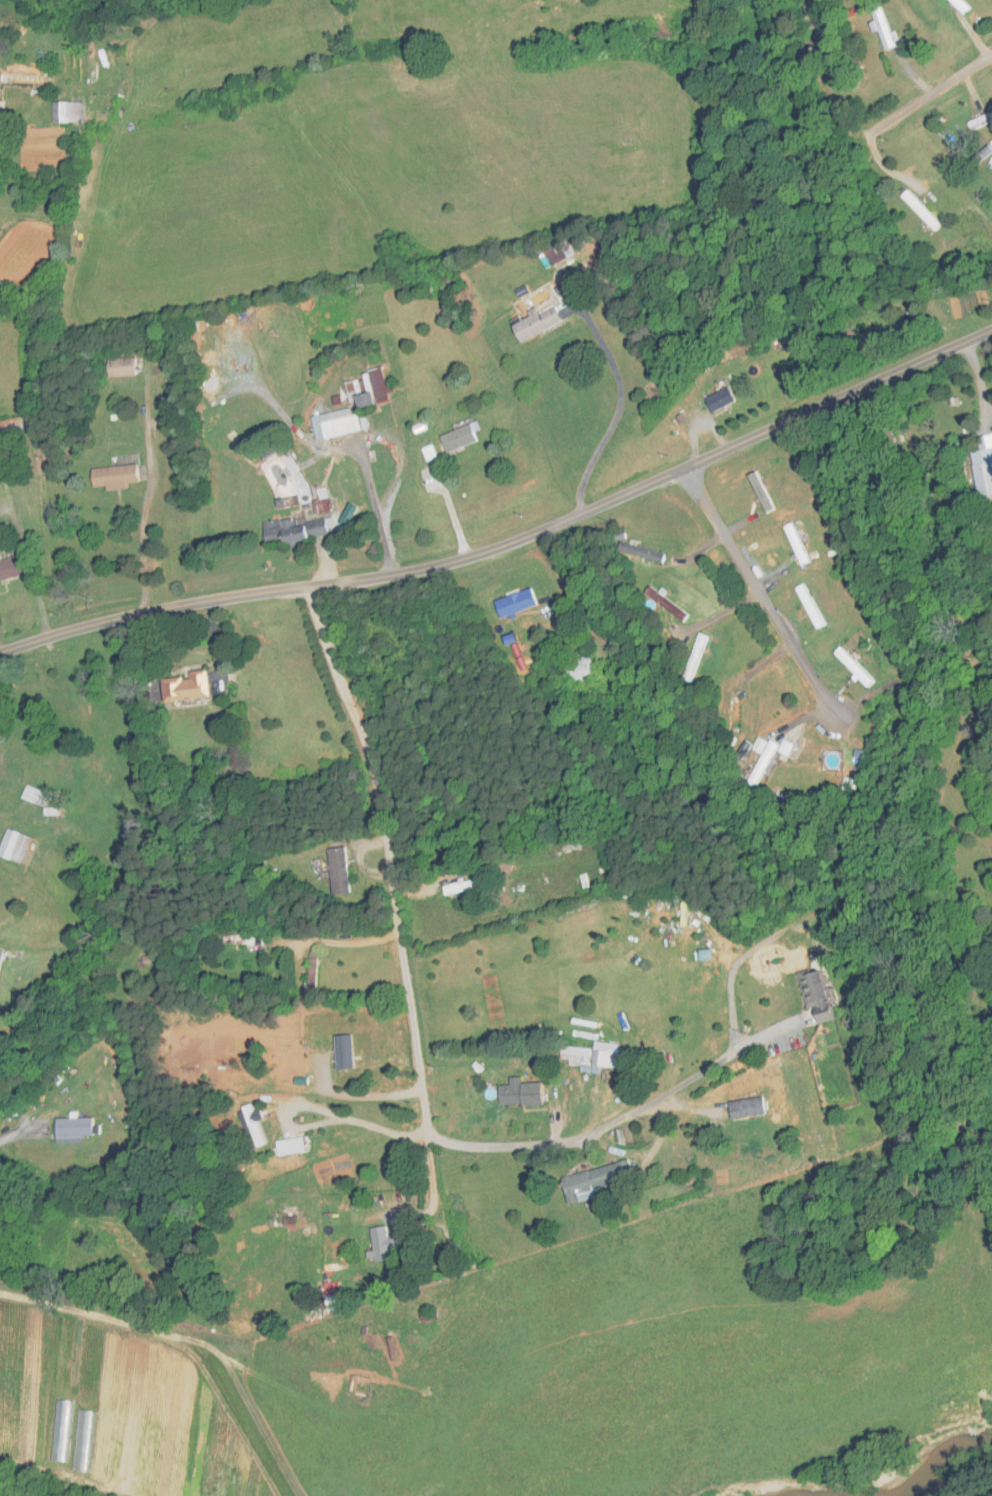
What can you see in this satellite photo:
building: (954, 6)
building: (8, 25)
building: (877, 28)
road: (921, 101)
building: (63, 113)
building: (976, 121)
building: (914, 211)
building: (527, 323)
building: (114, 366)
building: (364, 386)
building: (710, 400)
road: (621, 405)
building: (326, 422)
building: (10, 424)
building: (454, 437)
building: (109, 476)
building: (979, 476)
road: (145, 490)
building: (290, 528)
road: (511, 543)
building: (792, 544)
building: (636, 551)
building: (7, 565)
road: (762, 596)
building: (507, 602)
building: (660, 602)
building: (806, 606)
road: (215, 648)
building: (689, 657)
building: (849, 667)
building: (571, 668)
building: (172, 686)
building: (729, 710)
building: (762, 760)
building: (4, 841)
building: (566, 844)
building: (331, 870)
building: (454, 887)
road: (348, 942)
road: (401, 942)
road: (742, 957)
building: (808, 997)
road: (696, 1075)
building: (515, 1093)
road: (355, 1094)
building: (739, 1107)
road: (355, 1119)
building: (65, 1128)
building: (243, 1128)
building: (282, 1146)
building: (587, 1182)
road: (432, 1189)
building: (377, 1243)
building: (423, 1319)
road: (178, 1340)
building: (388, 1348)
road: (64, 1477)

